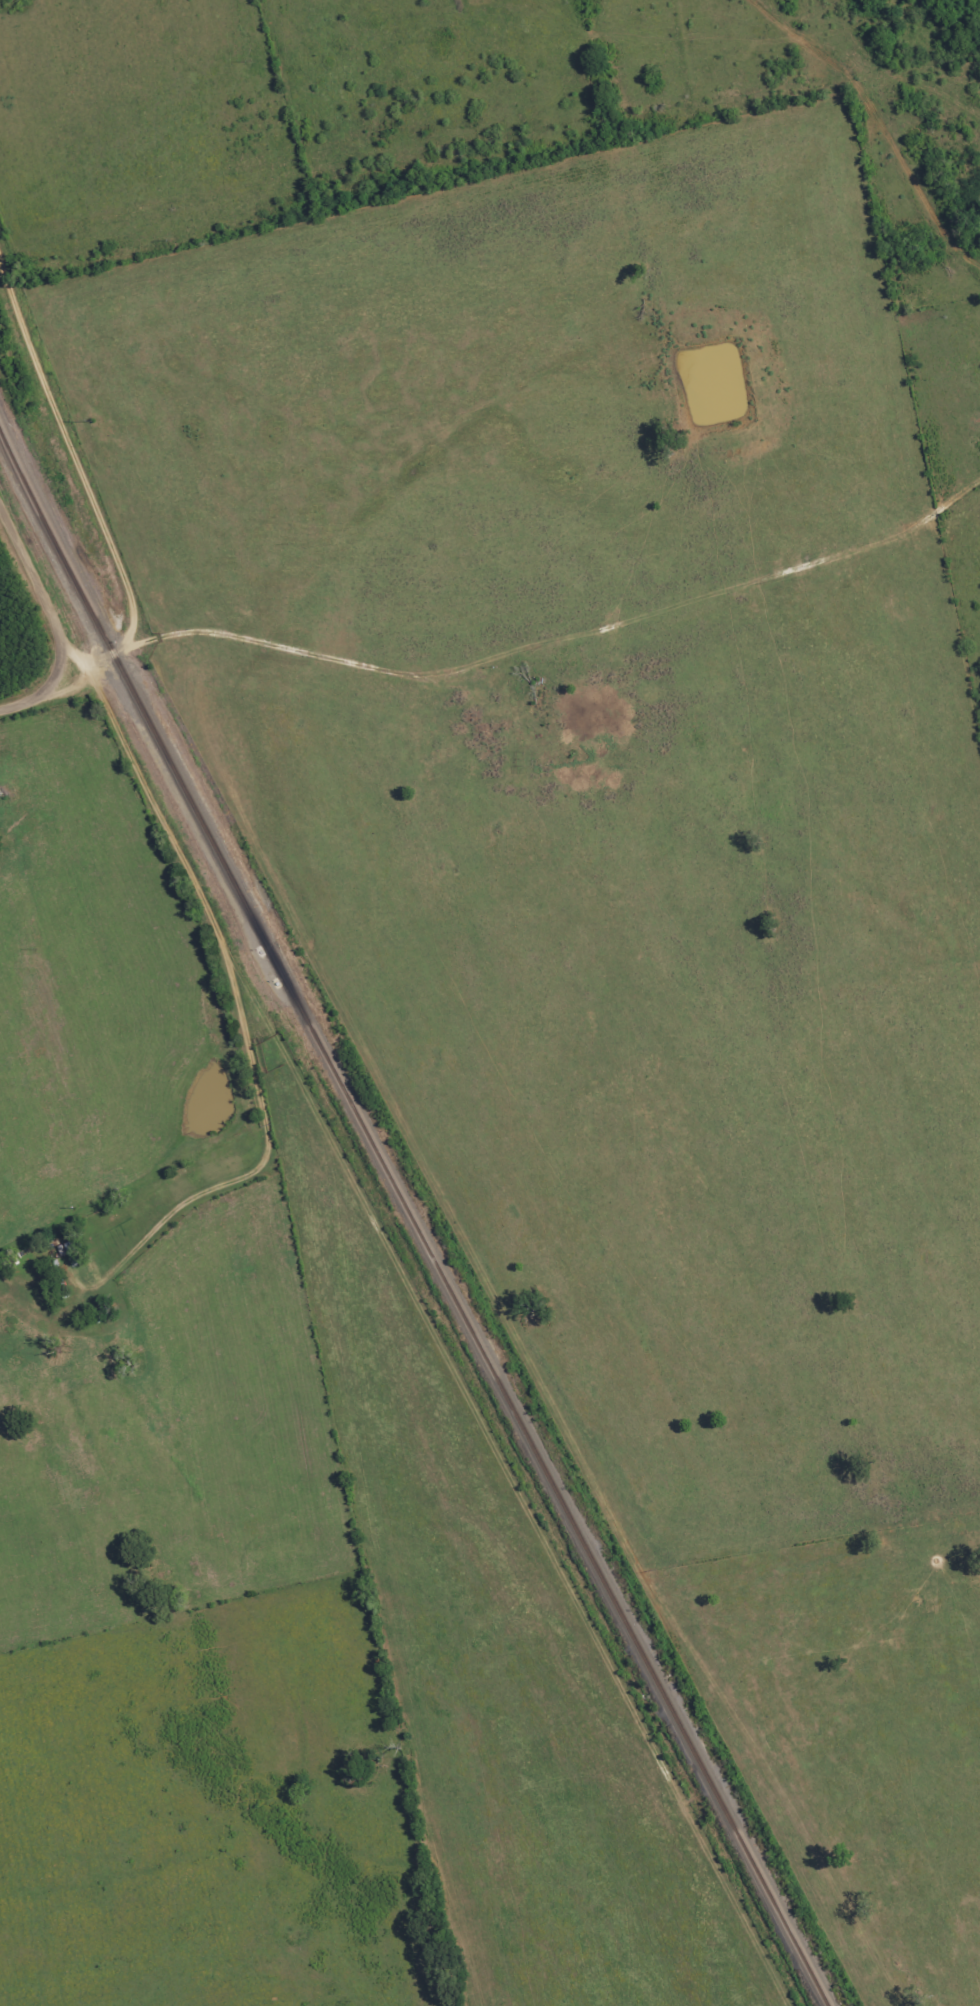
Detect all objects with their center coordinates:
road: (72, 448)
road: (53, 619)
road: (287, 649)
road: (95, 661)
road: (72, 686)
railway: (410, 1217)

